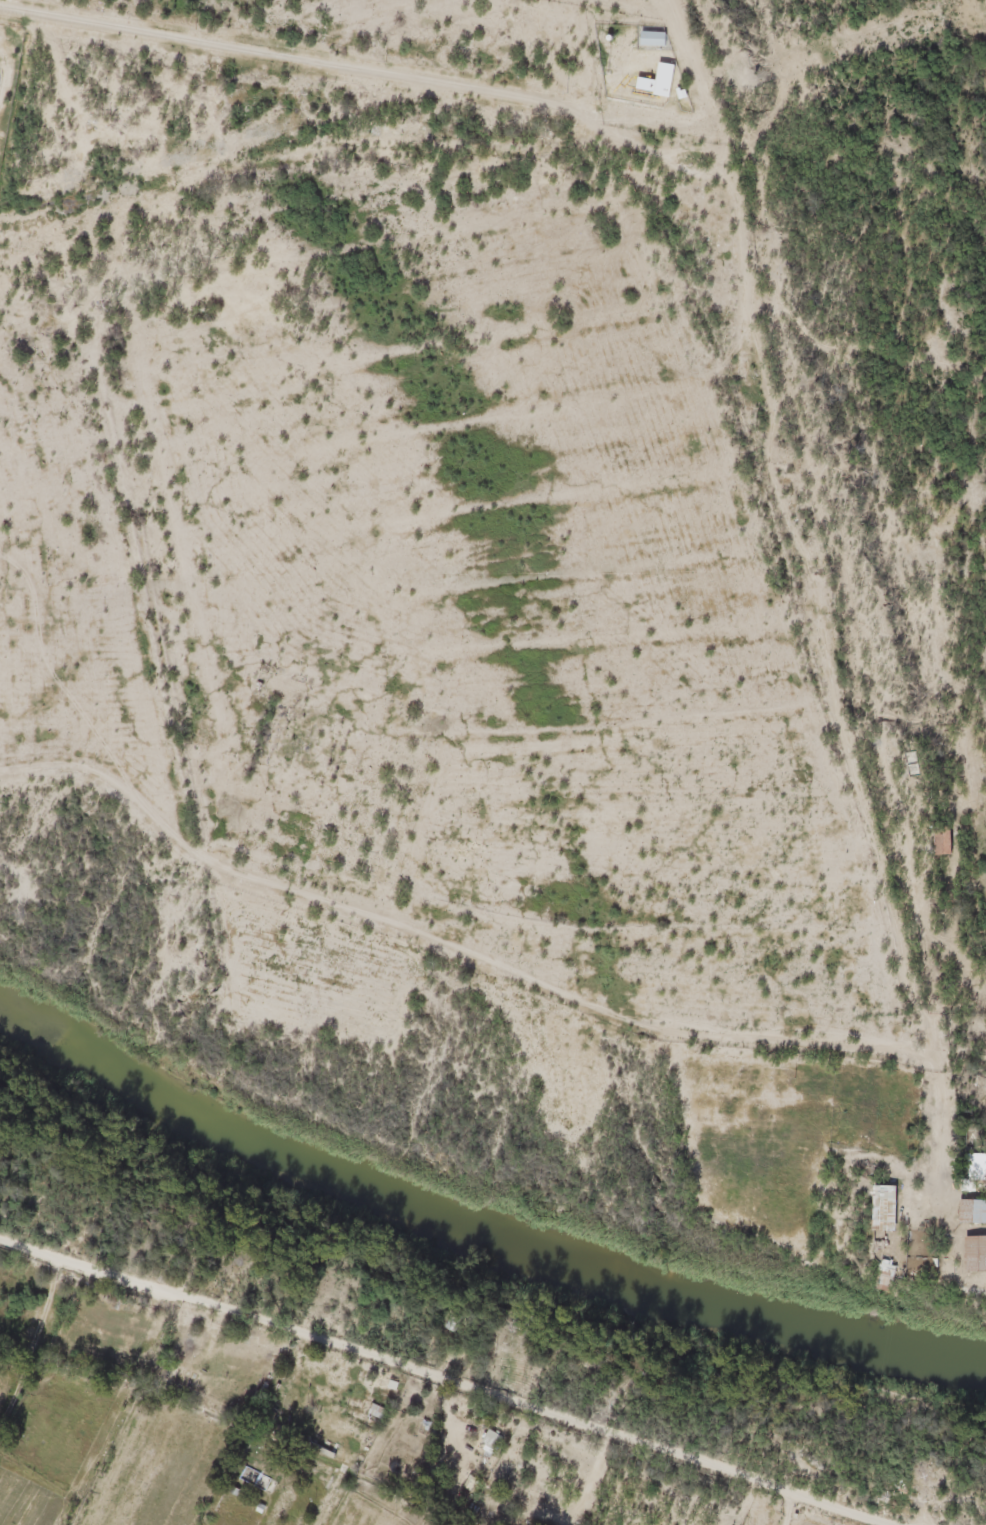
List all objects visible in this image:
road: (279, 55)
river: (479, 1220)
road: (449, 1378)

